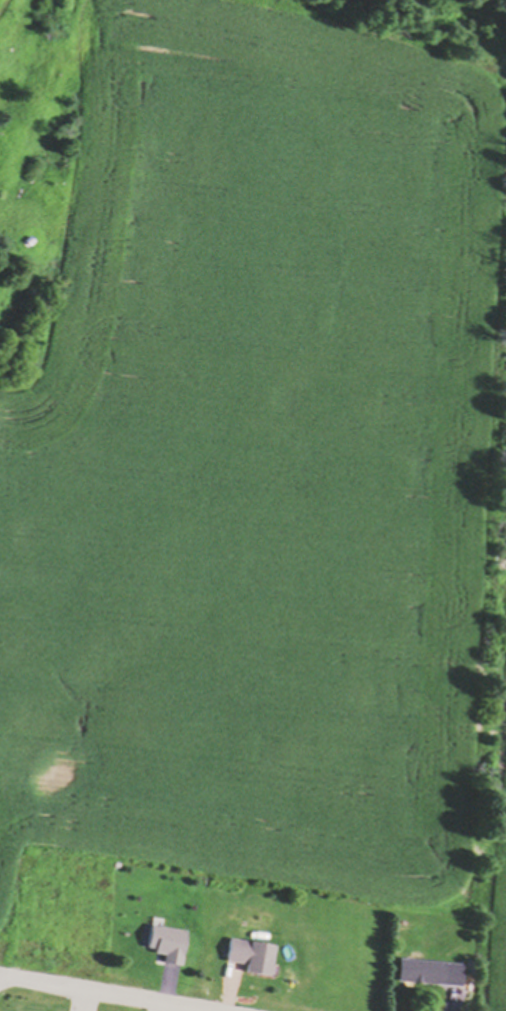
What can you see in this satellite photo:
building: (171, 945)
building: (255, 956)
building: (434, 973)
road: (98, 993)

